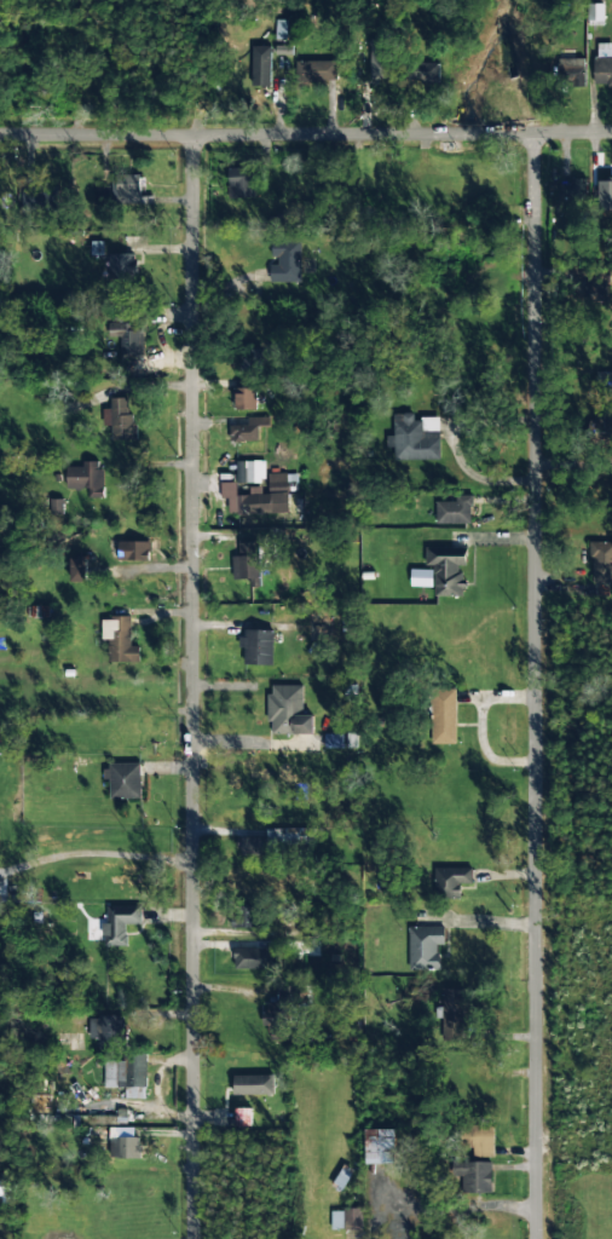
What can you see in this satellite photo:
building: (596, 15)
building: (379, 59)
building: (260, 67)
building: (602, 67)
building: (317, 71)
building: (572, 71)
building: (425, 73)
road: (306, 136)
building: (239, 183)
building: (127, 189)
building: (573, 189)
building: (39, 198)
building: (97, 248)
building: (285, 263)
building: (122, 266)
building: (595, 287)
building: (127, 336)
building: (244, 399)
building: (120, 419)
building: (600, 426)
building: (248, 430)
building: (415, 438)
building: (244, 472)
building: (85, 477)
building: (282, 483)
building: (253, 501)
building: (455, 511)
building: (134, 551)
building: (601, 563)
building: (247, 564)
building: (77, 570)
building: (448, 571)
building: (421, 578)
building: (119, 640)
building: (258, 646)
road: (532, 686)
road: (192, 687)
building: (288, 711)
building: (443, 716)
building: (123, 780)
building: (299, 836)
building: (253, 847)
building: (451, 881)
building: (243, 917)
building: (119, 924)
building: (425, 947)
building: (255, 958)
building: (285, 1008)
building: (452, 1014)
building: (106, 1032)
building: (127, 1076)
building: (253, 1085)
building: (243, 1117)
building: (100, 1123)
building: (125, 1133)
building: (480, 1141)
building: (379, 1147)
building: (125, 1148)
building: (475, 1177)
building: (6, 1191)
building: (346, 1218)

